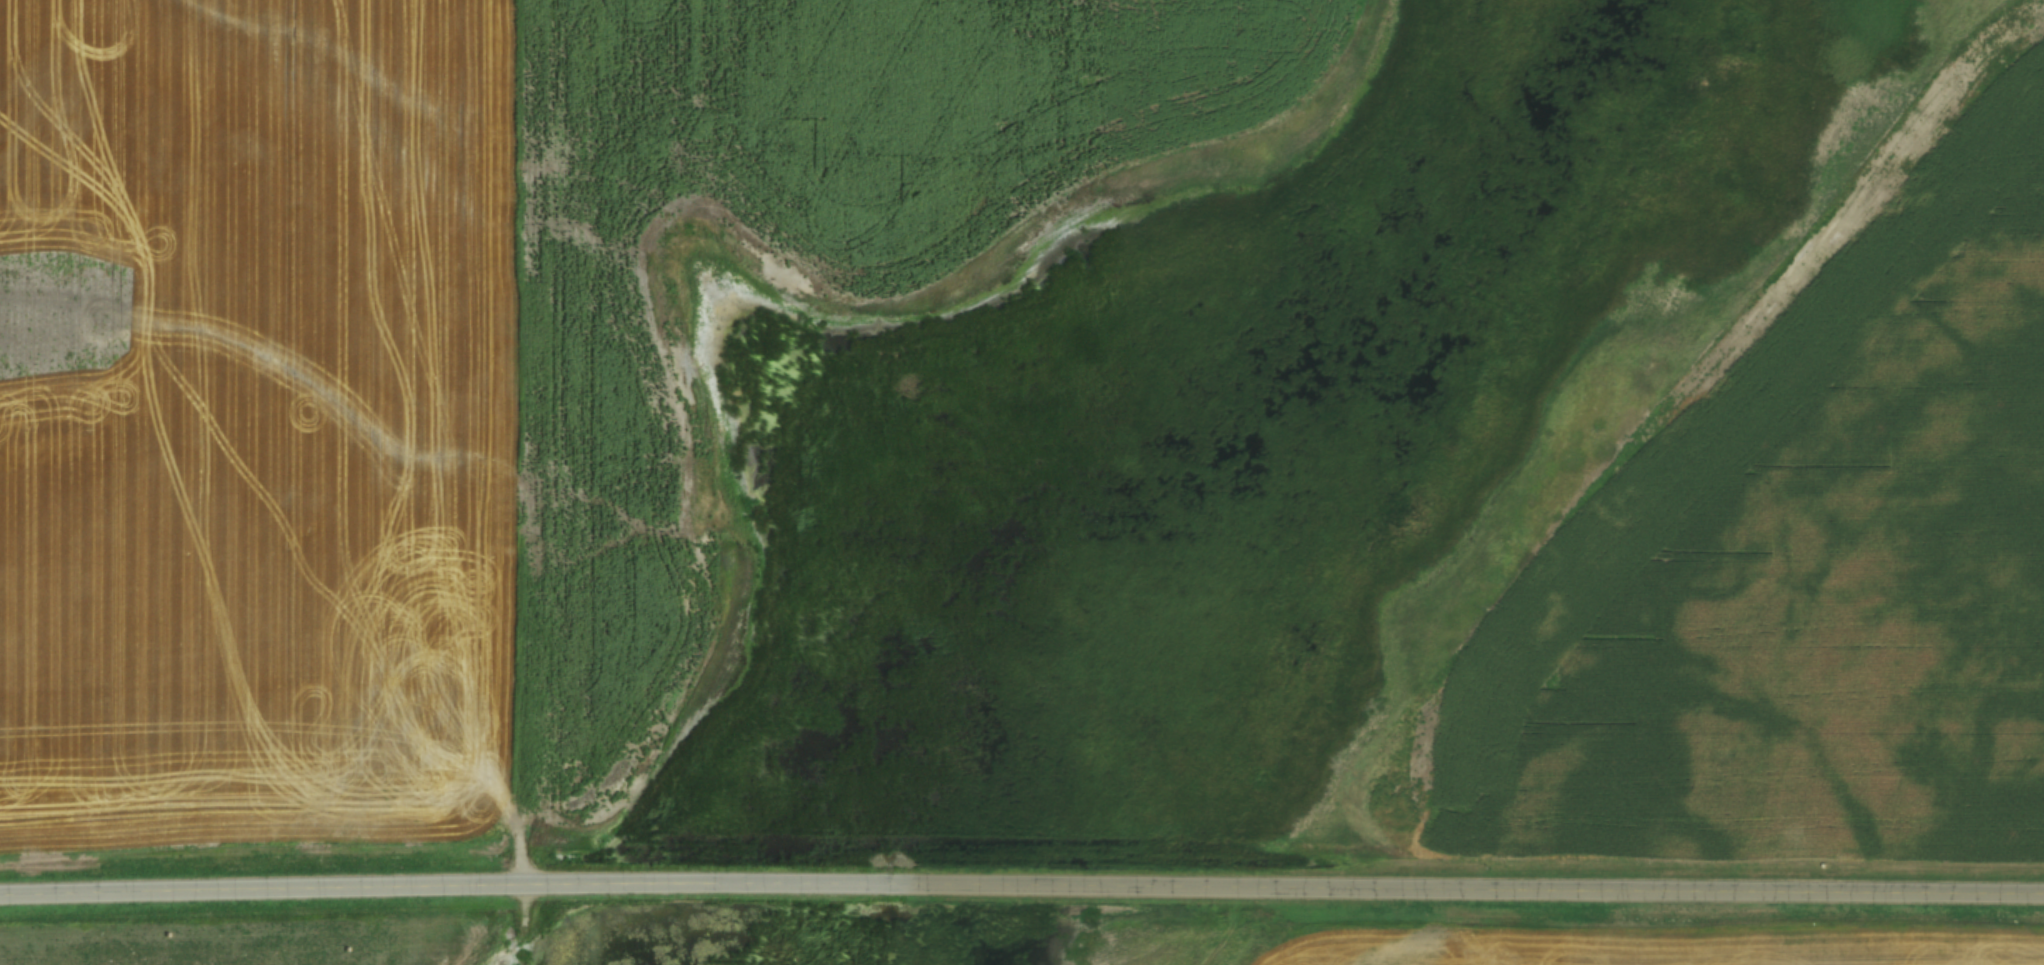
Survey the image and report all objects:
road: (518, 441)
road: (1021, 885)
crop: (1653, 946)

